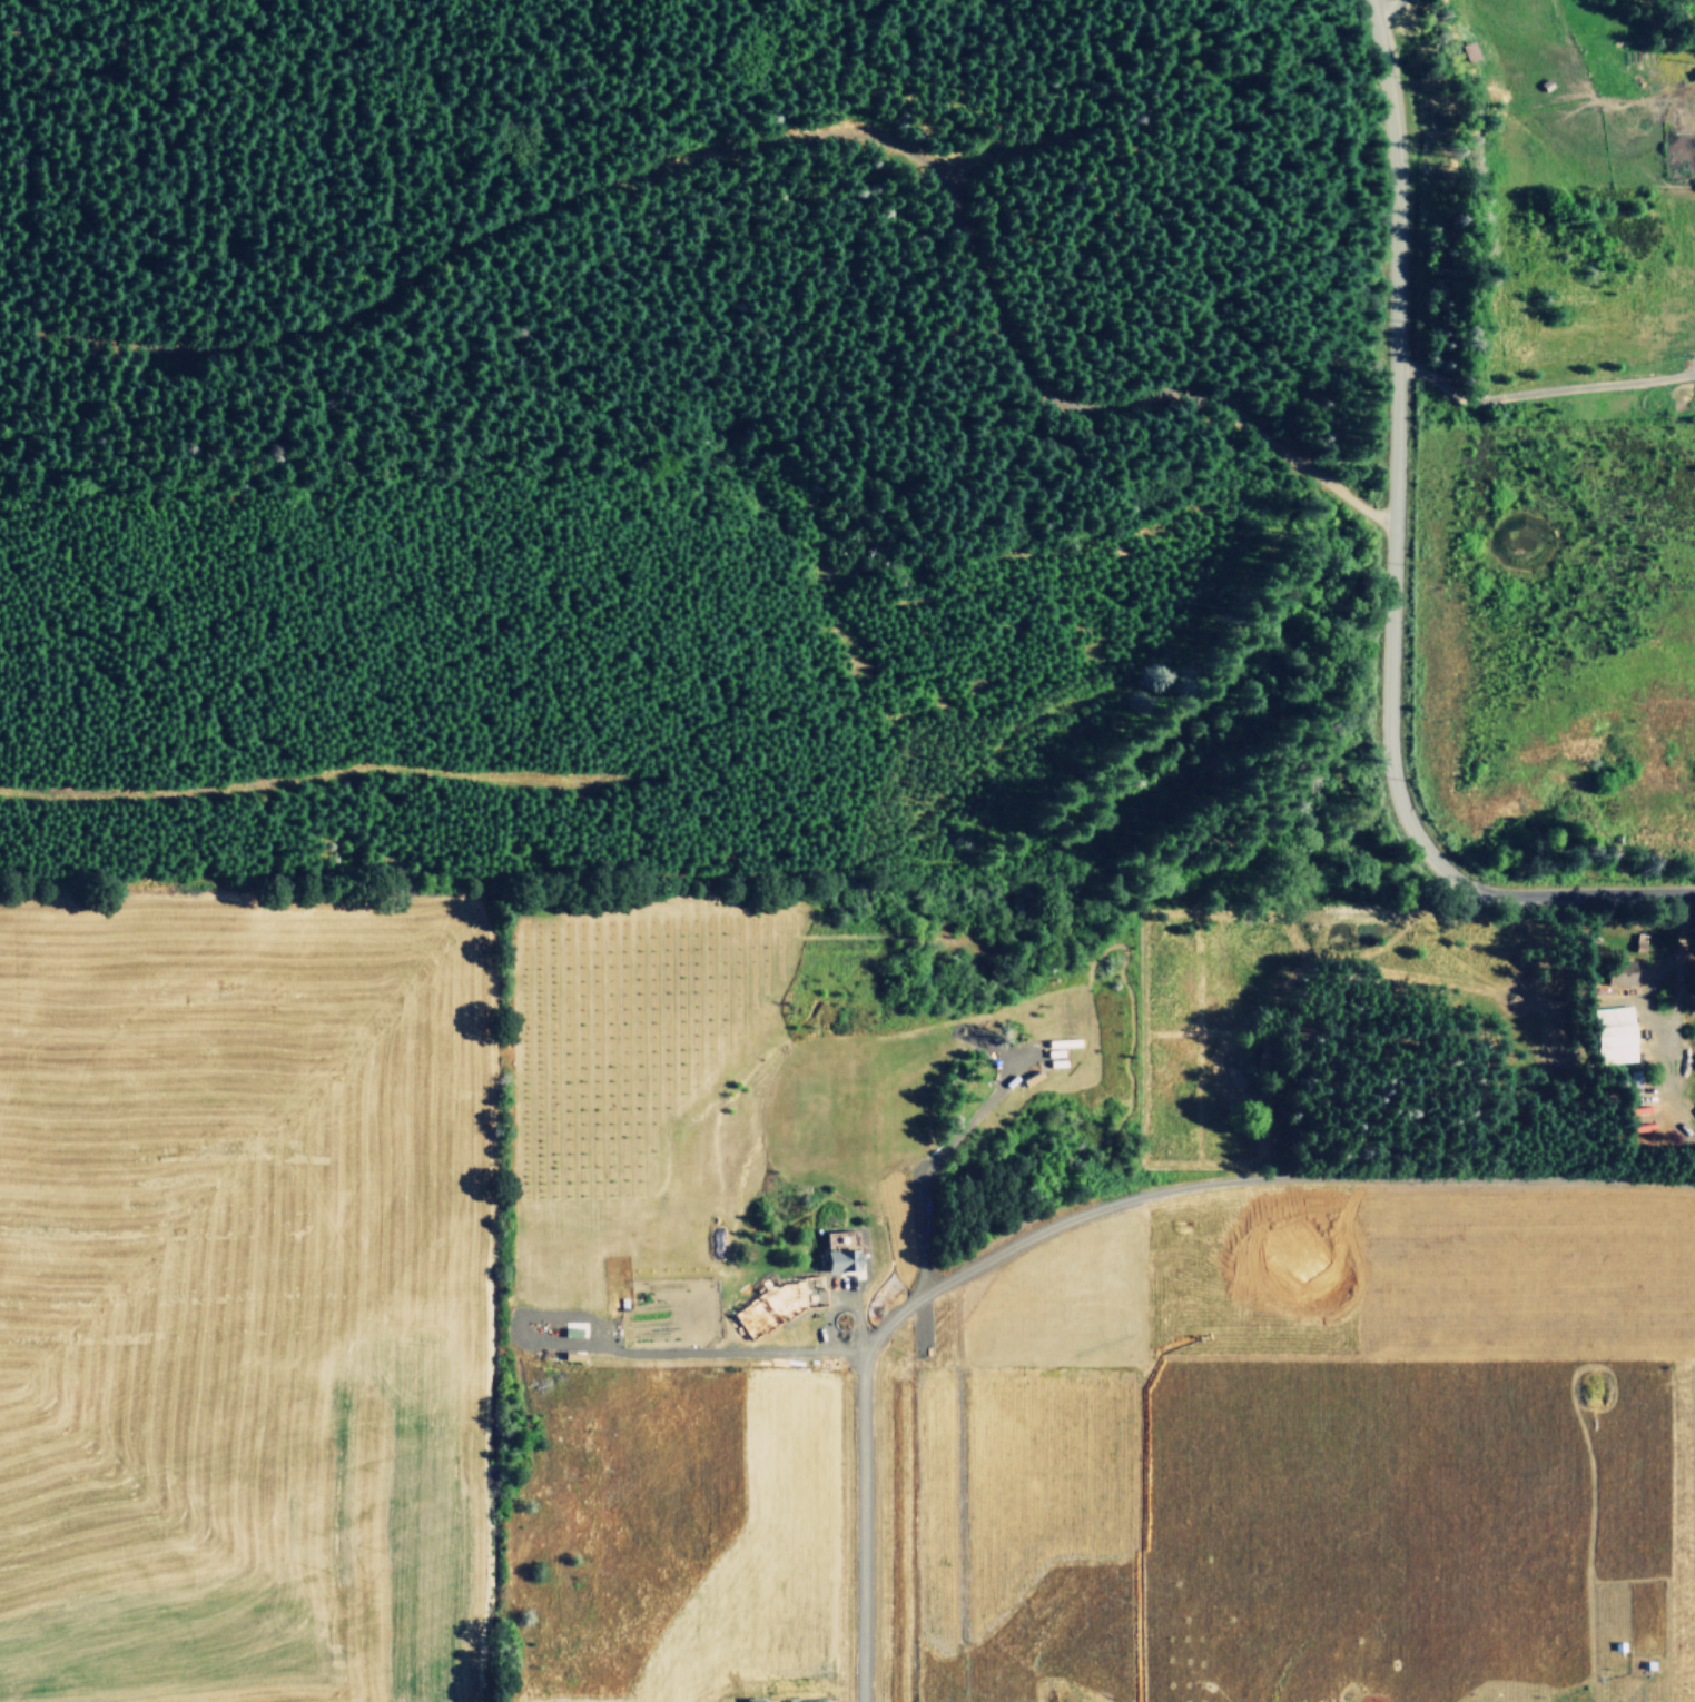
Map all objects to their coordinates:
building: (1468, 51)
road: (1391, 570)
road: (1372, 827)
building: (1622, 973)
building: (1615, 1033)
road: (983, 1039)
building: (1061, 1042)
building: (1052, 1052)
building: (1054, 1063)
building: (1031, 1079)
building: (1008, 1081)
road: (933, 1156)
road: (1084, 1214)
building: (841, 1260)
road: (839, 1285)
building: (621, 1304)
building: (571, 1332)
road: (693, 1350)
building: (573, 1356)
building: (753, 1699)
building: (808, 1701)

